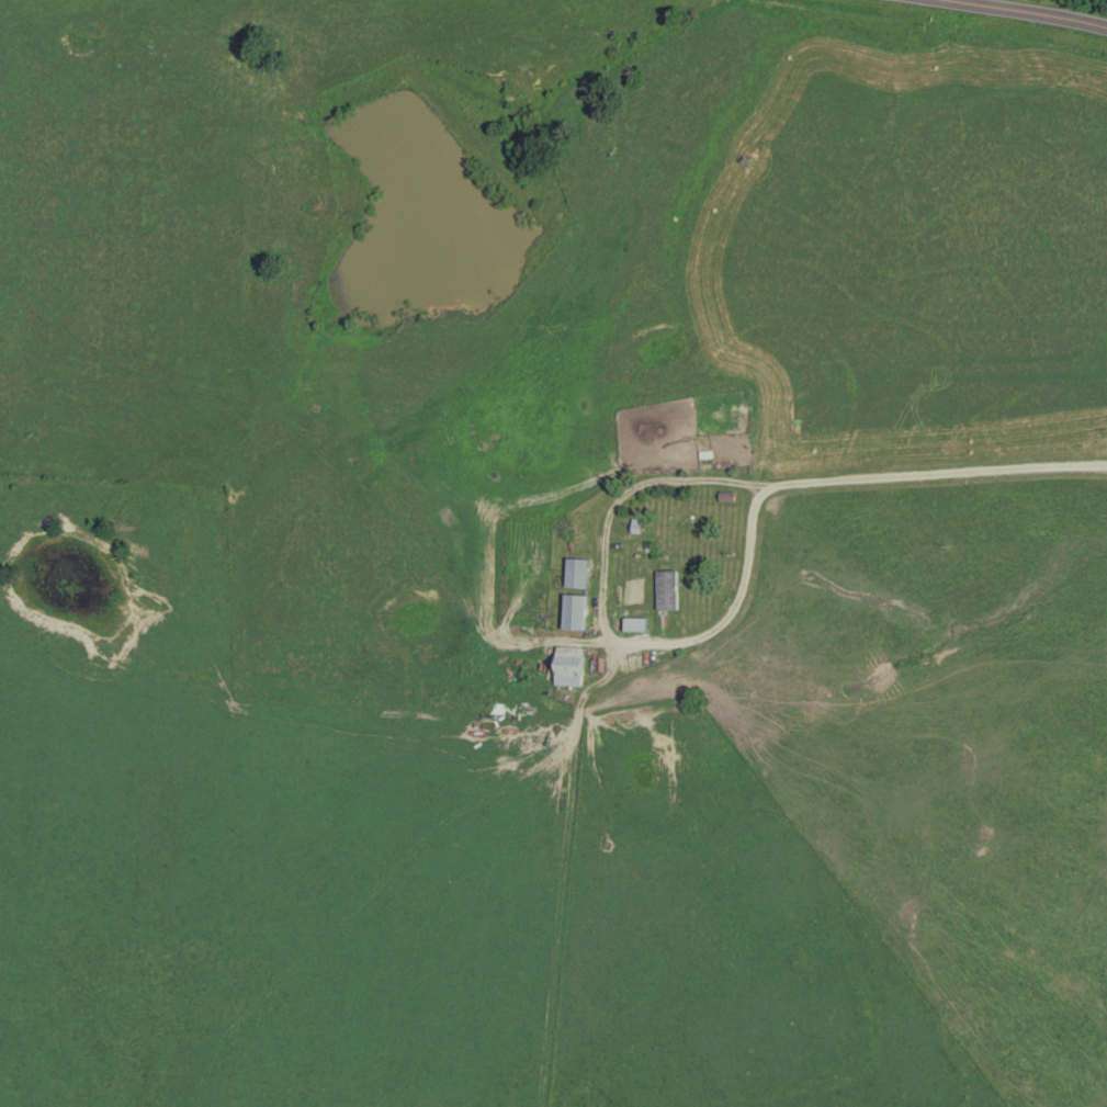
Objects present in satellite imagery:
road: (1014, 13)
road: (937, 473)
building: (577, 574)
building: (668, 590)
road: (612, 606)
building: (575, 612)
building: (636, 625)
building: (569, 666)

